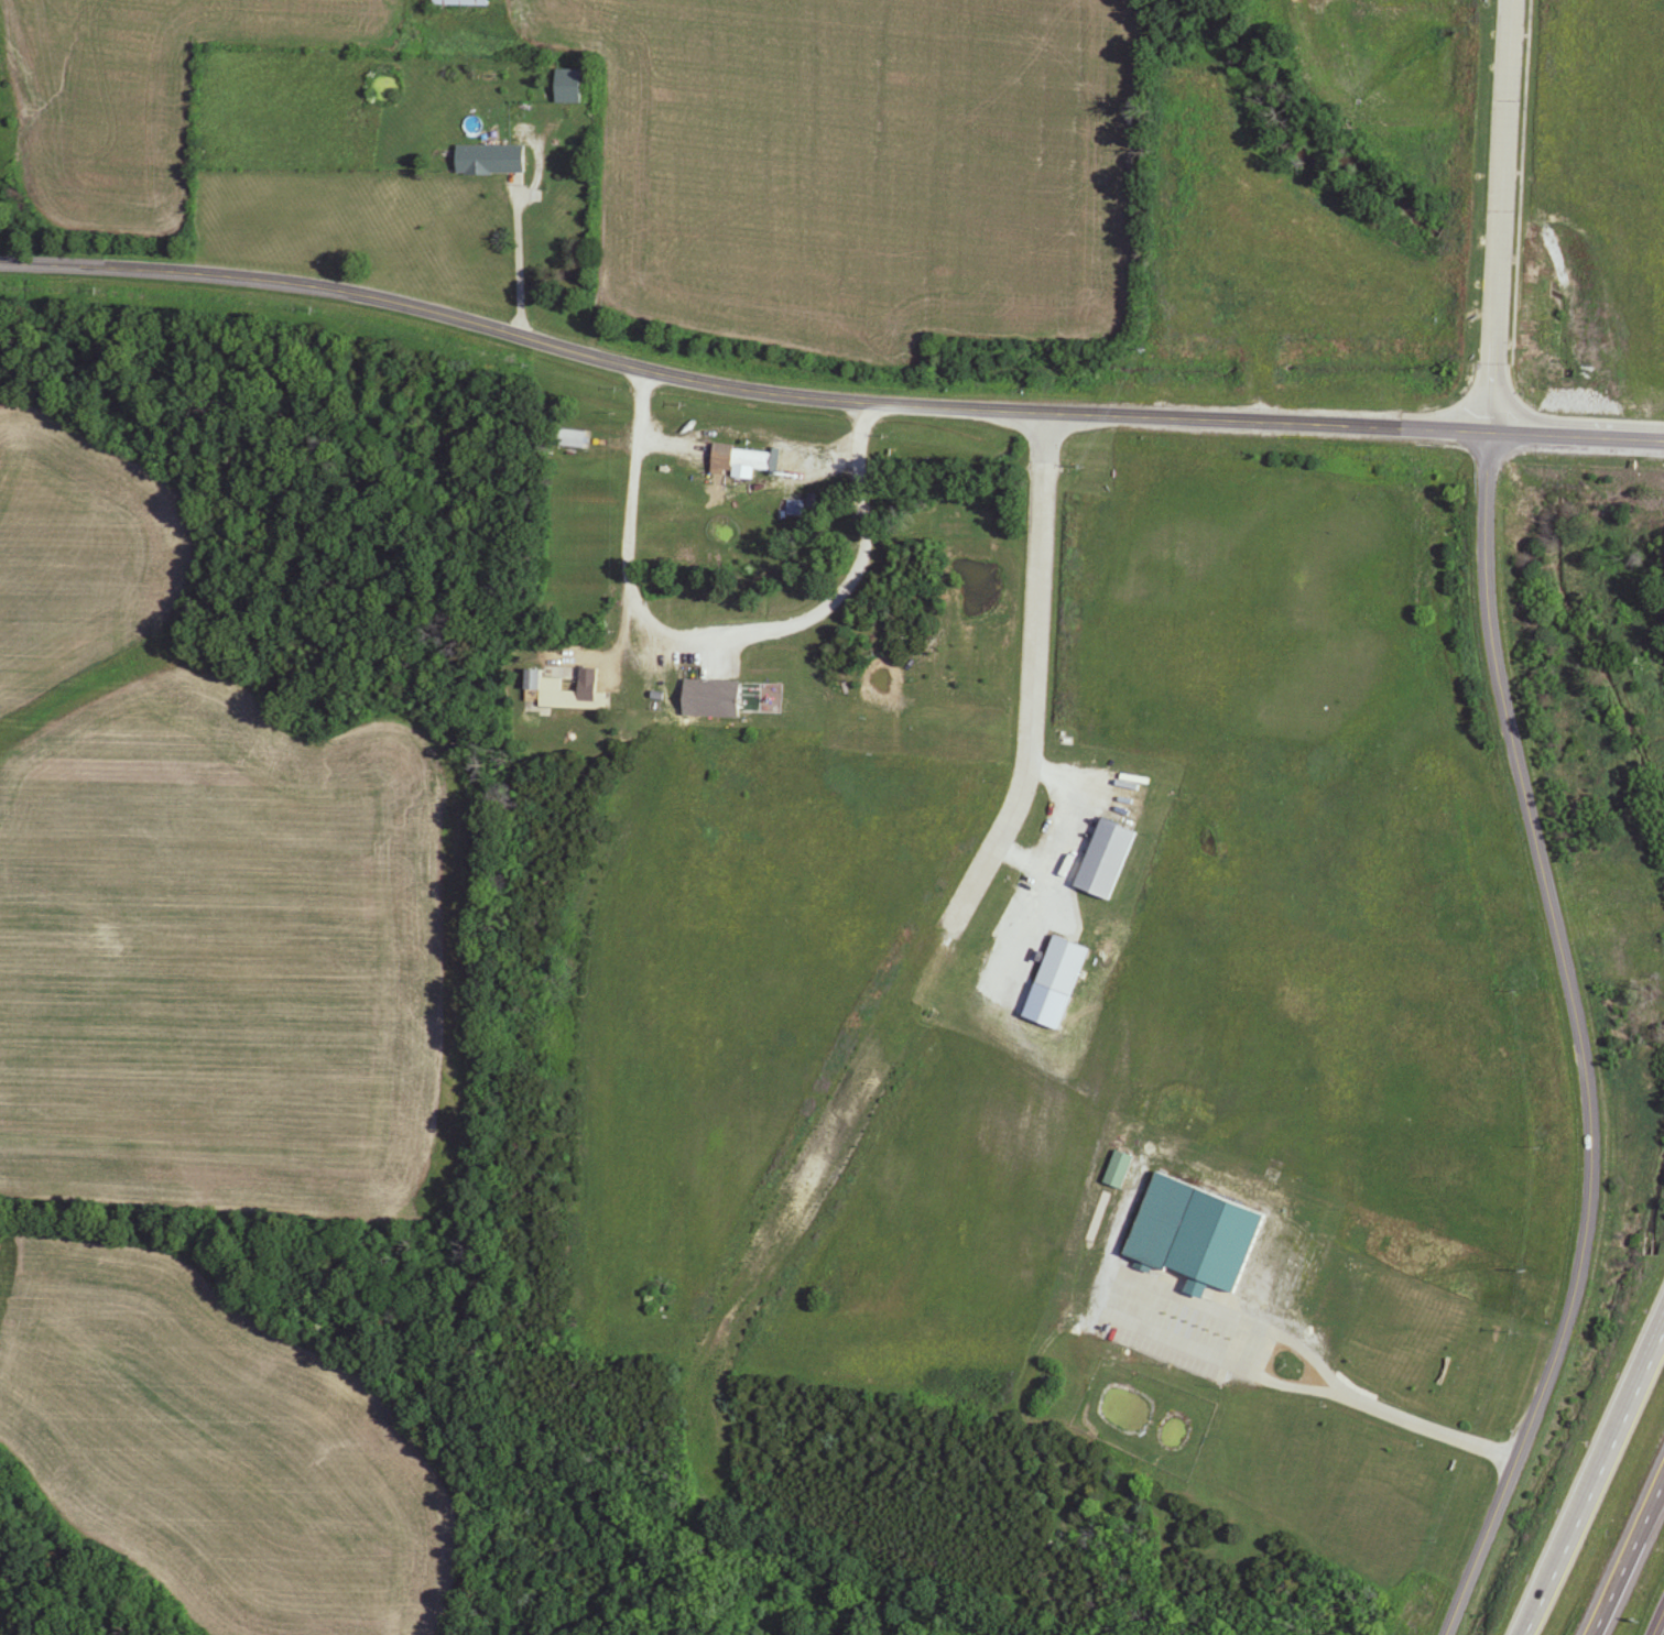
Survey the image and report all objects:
building: (465, 3)
building: (557, 87)
building: (482, 162)
road: (1498, 222)
road: (516, 235)
road: (1646, 353)
road: (825, 403)
building: (570, 439)
building: (742, 461)
road: (720, 643)
road: (1029, 688)
building: (711, 699)
building: (1108, 860)
road: (1580, 1047)
building: (1118, 1169)
building: (1197, 1233)
road: (1308, 1396)
road: (1594, 1482)
road: (1627, 1557)
road: (1658, 1624)

